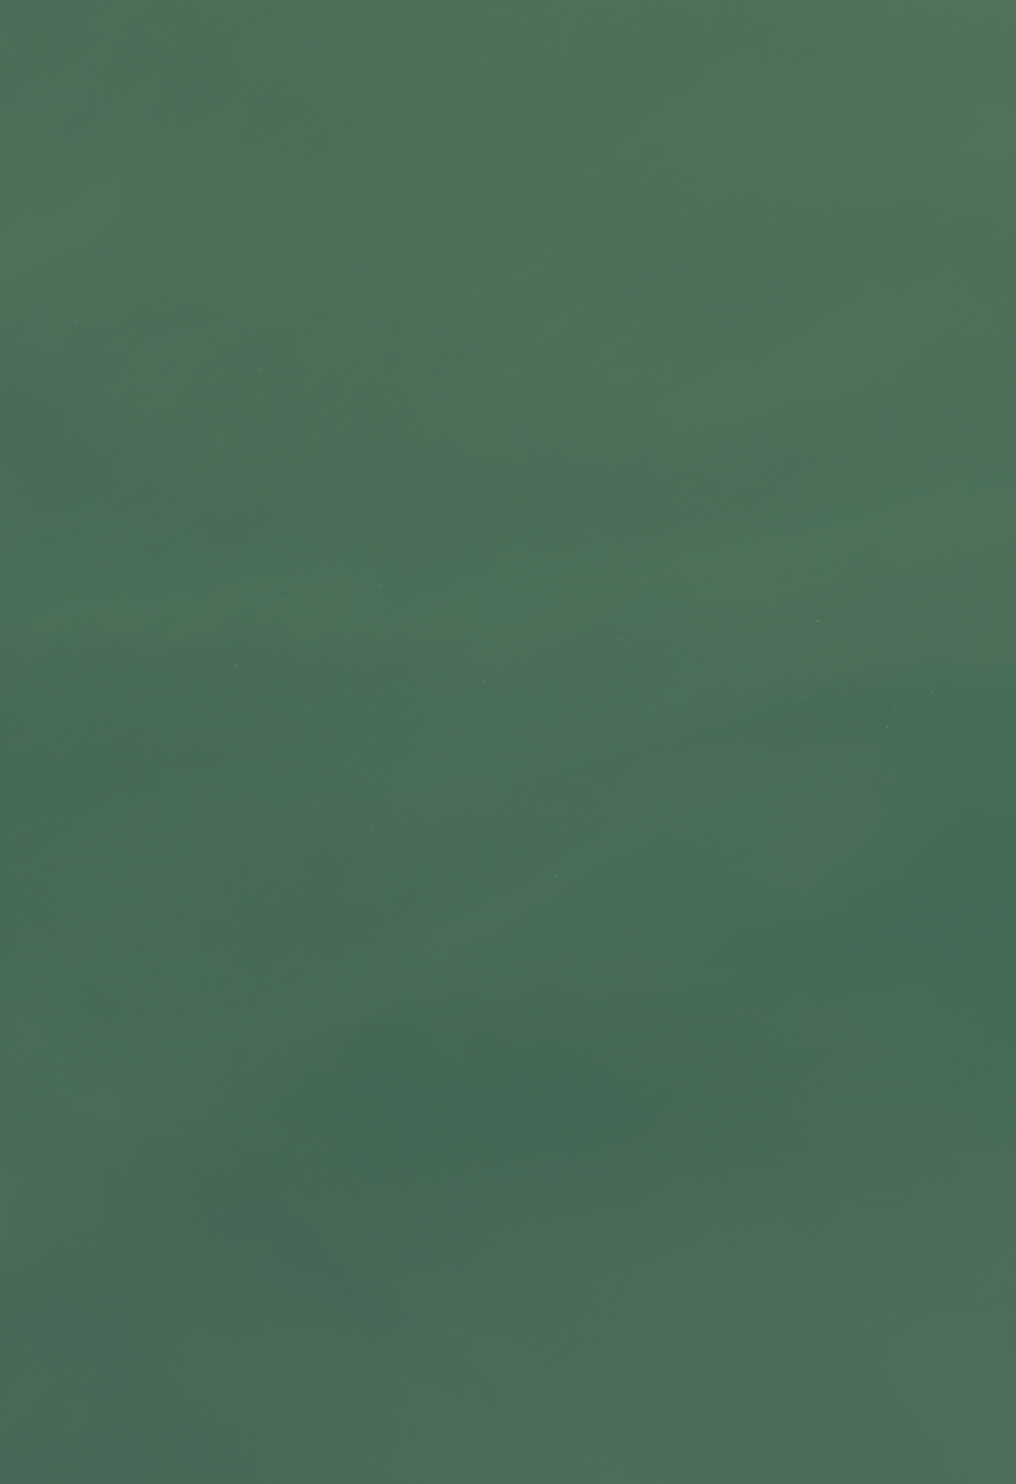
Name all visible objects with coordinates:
river: (846, 108)

